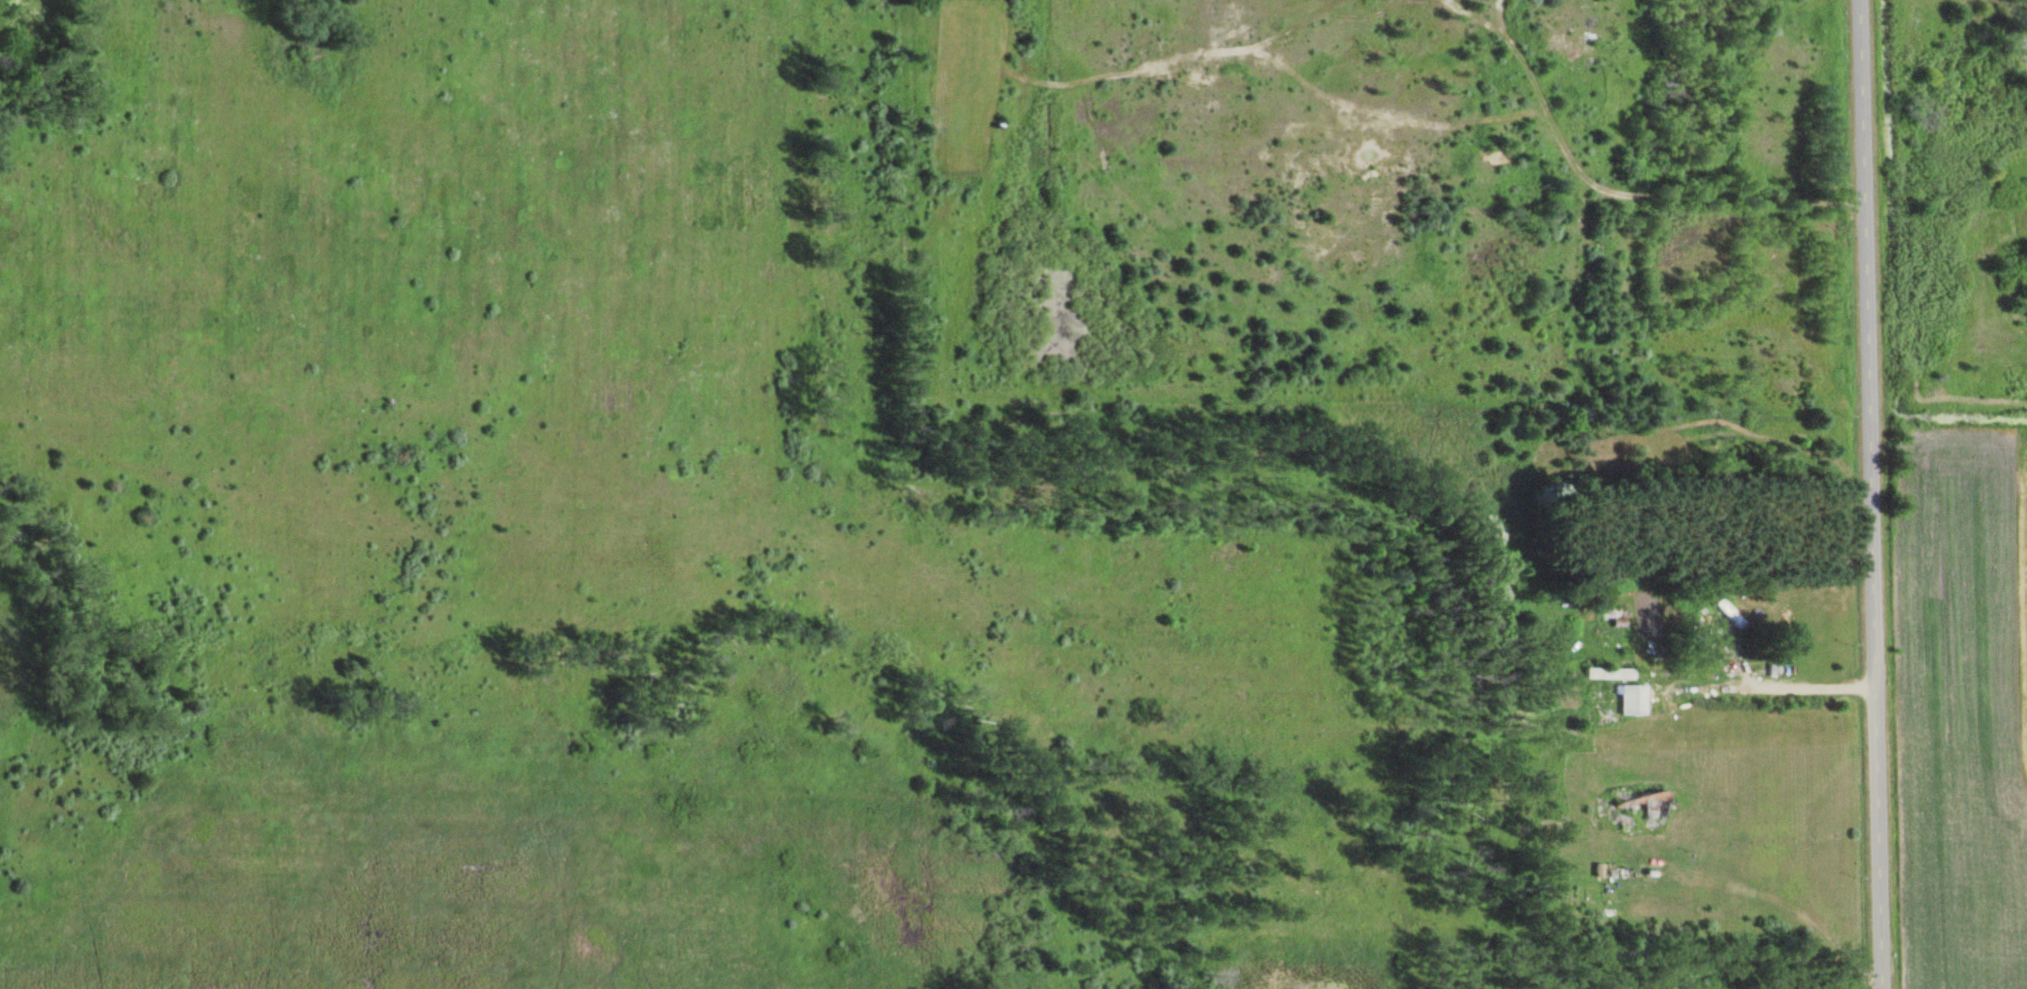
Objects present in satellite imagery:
road: (1868, 494)
building: (1726, 614)
building: (1605, 674)
building: (1628, 700)

